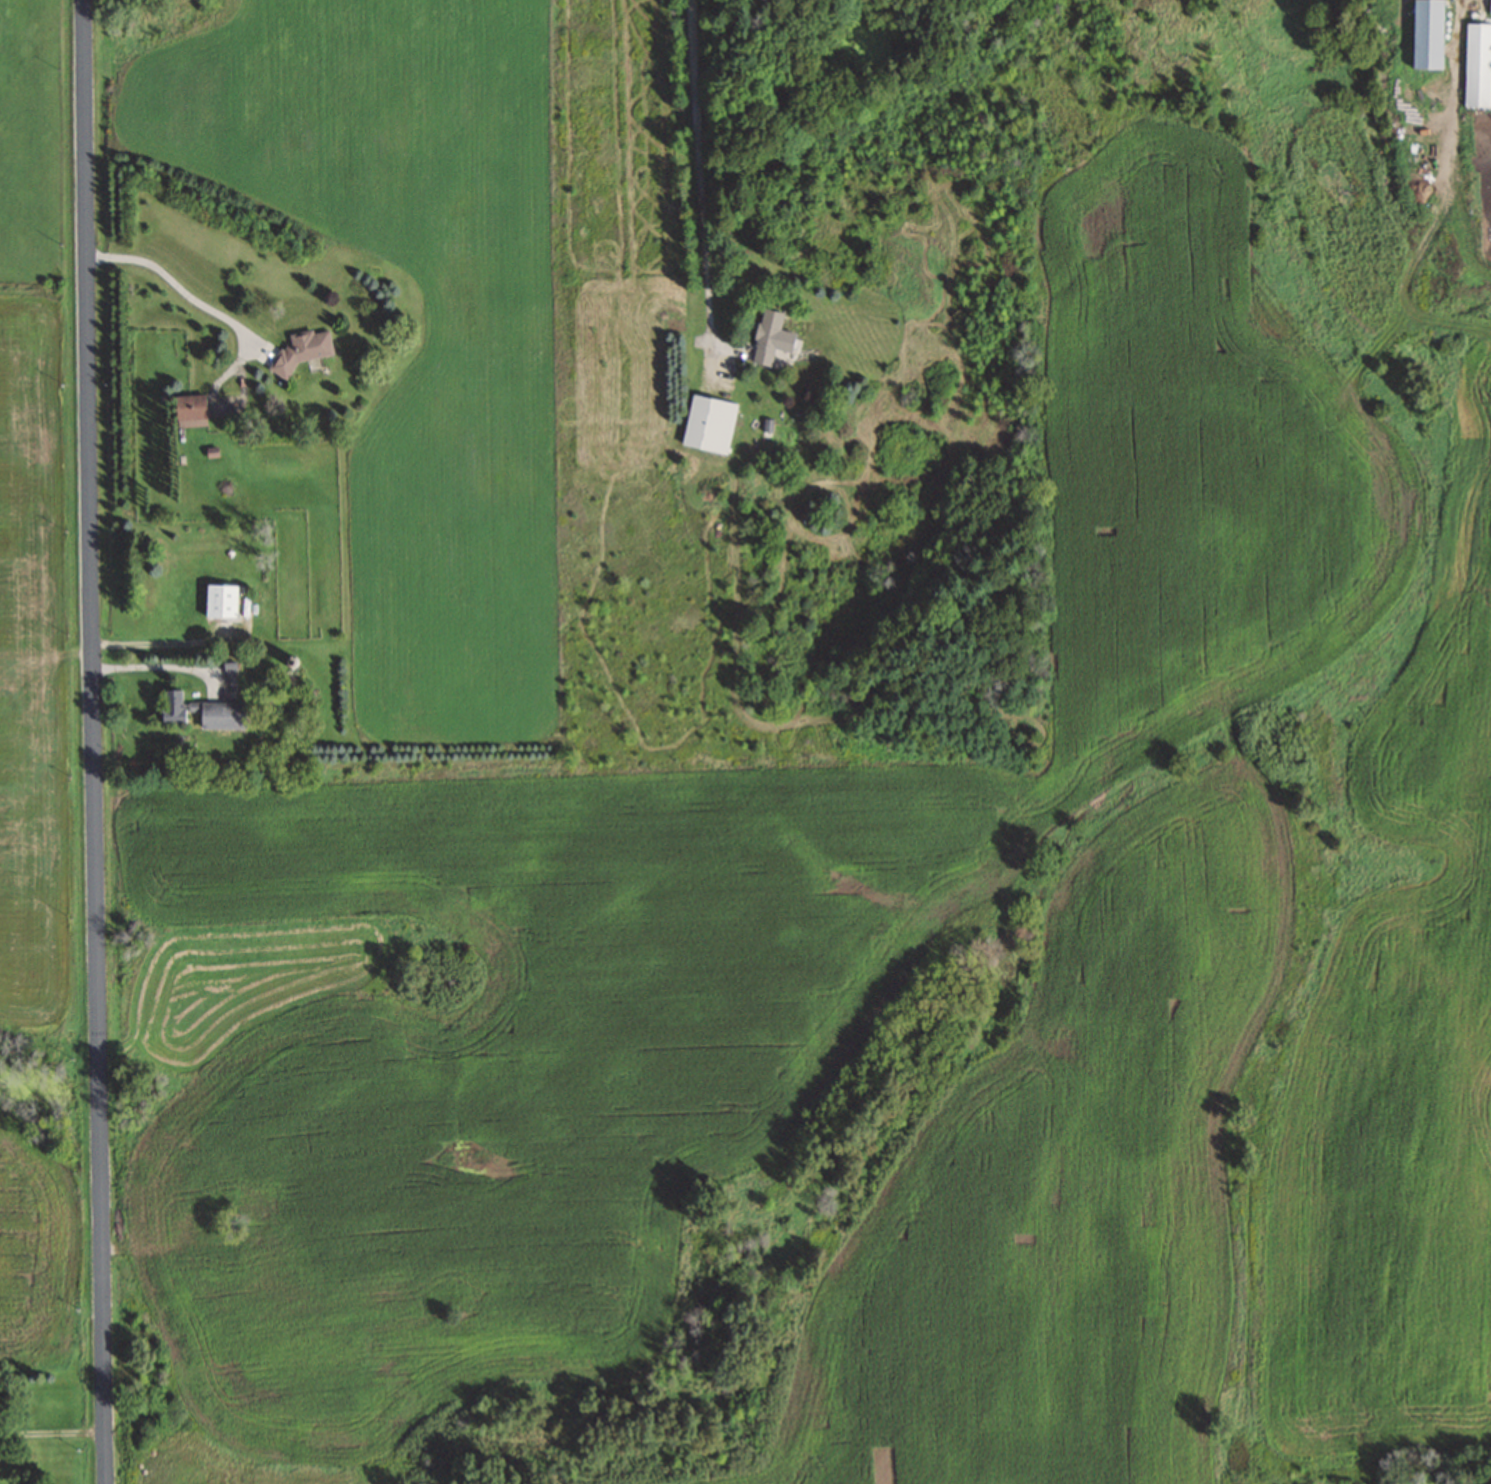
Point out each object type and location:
building: (1490, 7)
building: (1427, 34)
building: (1477, 65)
road: (701, 172)
road: (231, 320)
building: (766, 337)
building: (301, 348)
building: (189, 409)
building: (708, 424)
building: (219, 601)
building: (199, 712)
road: (94, 742)
road: (53, 1431)

